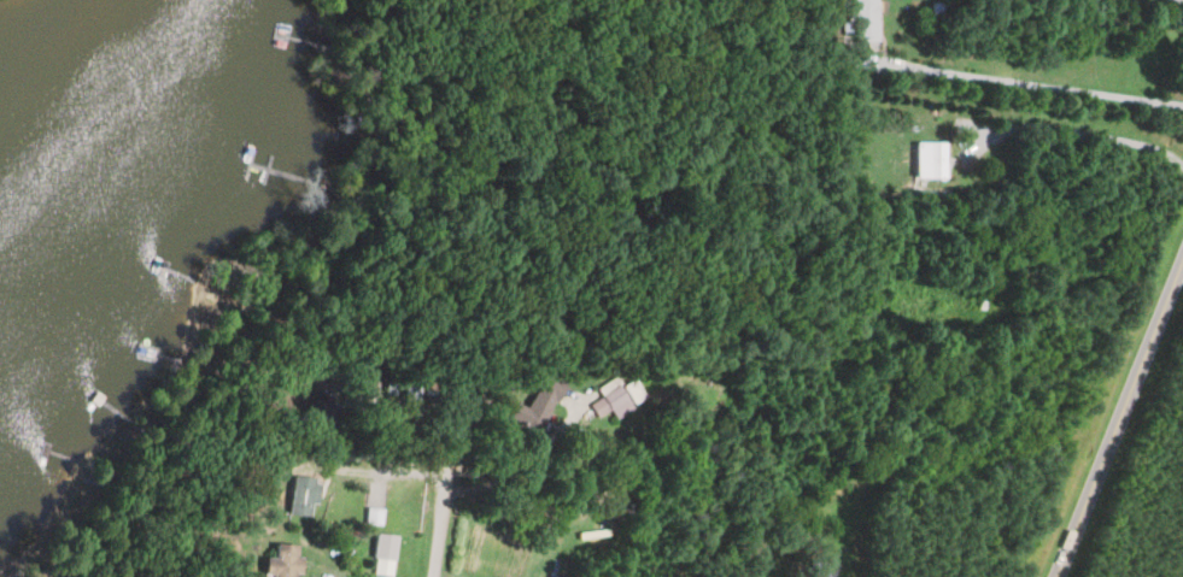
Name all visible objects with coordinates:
building: (861, 20)
road: (1039, 84)
building: (925, 161)
building: (609, 402)
building: (532, 411)
building: (311, 412)
road: (1118, 418)
building: (300, 499)
building: (371, 518)
road: (441, 535)
building: (380, 549)
building: (277, 561)
building: (821, 570)

